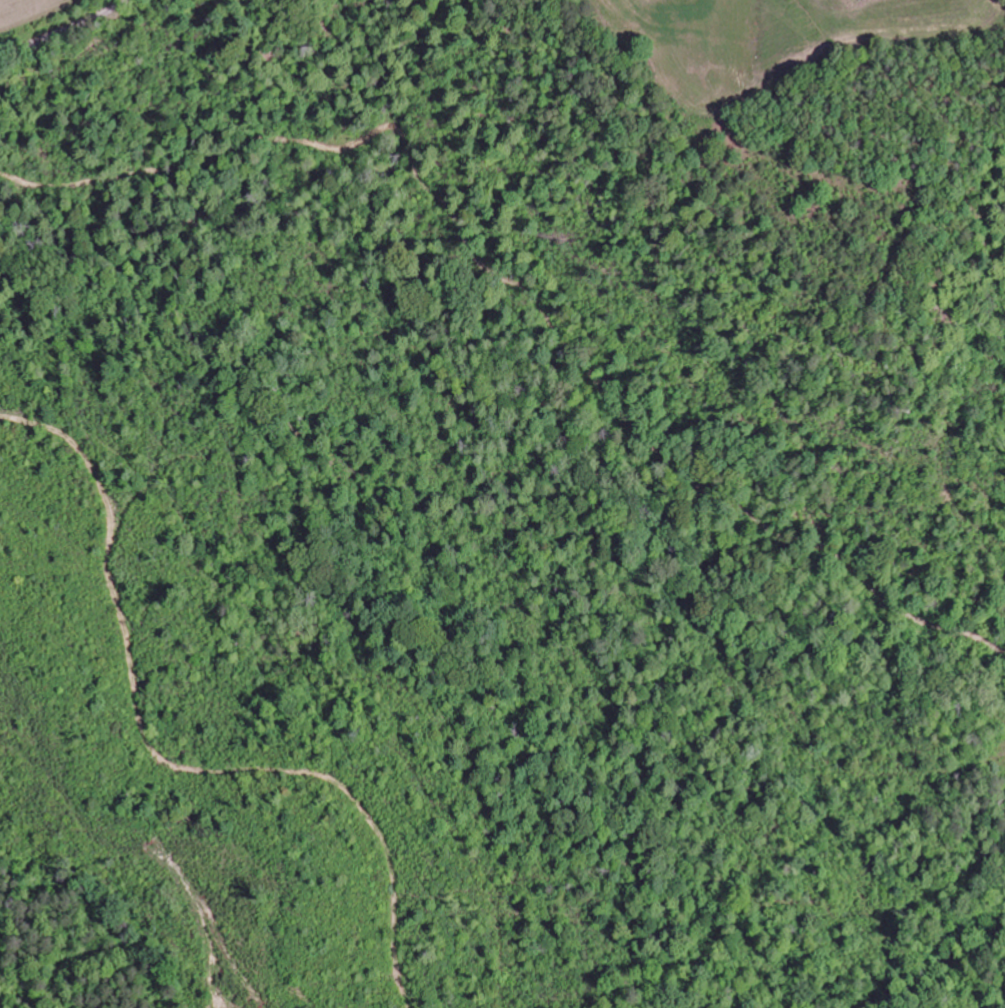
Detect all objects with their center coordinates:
road: (64, 28)

